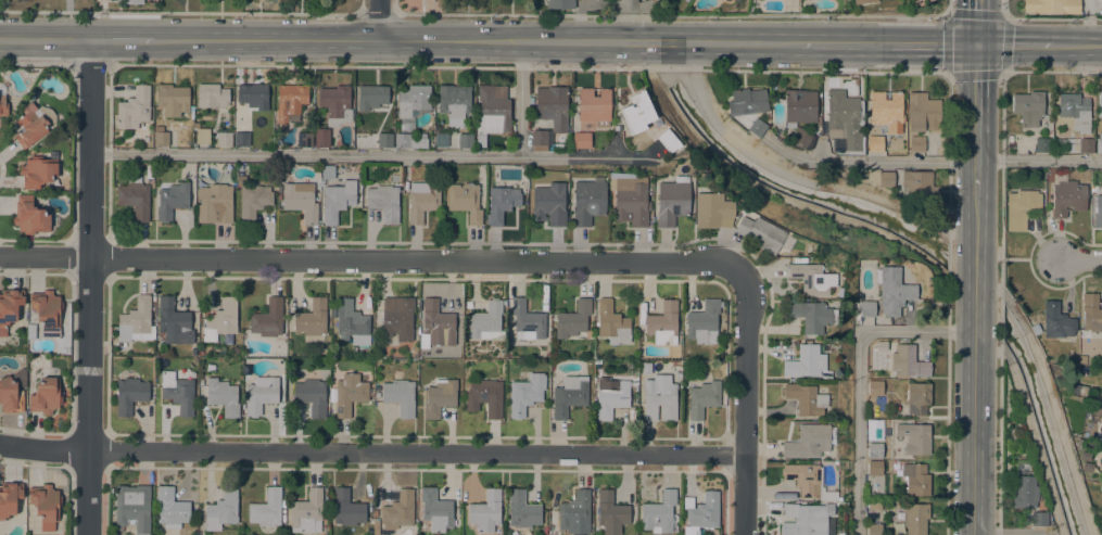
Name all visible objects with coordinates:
building: (735, 0)
building: (863, 1)
building: (134, 2)
building: (560, 4)
road: (622, 4)
building: (1052, 5)
road: (362, 7)
road: (394, 7)
road: (656, 8)
road: (1006, 9)
road: (623, 12)
road: (180, 13)
road: (378, 14)
road: (508, 14)
road: (794, 15)
road: (949, 15)
road: (1054, 18)
road: (378, 20)
road: (977, 23)
road: (625, 28)
road: (400, 39)
road: (887, 44)
road: (1014, 44)
road: (1077, 44)
traffic signals: (977, 46)
road: (688, 56)
road: (35, 64)
road: (529, 66)
building: (212, 95)
building: (253, 95)
building: (371, 97)
road: (520, 98)
building: (173, 99)
building: (454, 100)
building: (290, 101)
building: (335, 103)
building: (1100, 104)
building: (3, 105)
building: (595, 105)
building: (799, 106)
building: (1028, 107)
building: (134, 109)
building: (748, 109)
building: (886, 109)
building: (493, 110)
building: (923, 112)
building: (1072, 112)
building: (637, 113)
building: (549, 114)
building: (411, 115)
road: (976, 116)
building: (845, 119)
building: (29, 125)
road: (1001, 133)
building: (161, 136)
building: (800, 137)
building: (224, 139)
building: (241, 139)
building: (304, 139)
building: (321, 139)
building: (384, 139)
building: (582, 139)
building: (465, 140)
building: (668, 140)
building: (479, 142)
building: (875, 143)
building: (916, 143)
building: (1042, 144)
building: (1075, 144)
building: (1099, 144)
building: (558, 145)
building: (1010, 145)
road: (351, 154)
road: (949, 154)
road: (965, 161)
building: (682, 167)
building: (38, 171)
building: (328, 171)
building: (150, 174)
road: (794, 177)
building: (886, 179)
building: (920, 187)
building: (1094, 188)
road: (780, 195)
building: (135, 198)
building: (1067, 198)
building: (172, 200)
building: (252, 200)
building: (338, 200)
building: (422, 200)
building: (465, 200)
building: (588, 201)
building: (631, 201)
building: (672, 201)
building: (300, 202)
building: (383, 202)
building: (501, 203)
building: (215, 204)
building: (549, 204)
building: (1021, 208)
building: (712, 211)
building: (744, 211)
building: (1098, 212)
building: (29, 216)
road: (975, 225)
building: (760, 233)
road: (958, 238)
building: (810, 249)
road: (950, 254)
road: (45, 256)
road: (1081, 258)
road: (413, 259)
road: (988, 272)
building: (811, 278)
road: (974, 283)
road: (88, 285)
building: (894, 290)
road: (1008, 298)
building: (9, 307)
building: (866, 307)
building: (47, 311)
building: (1091, 313)
building: (812, 316)
building: (268, 318)
building: (312, 318)
building: (528, 319)
building: (573, 319)
road: (999, 319)
building: (398, 320)
building: (136, 321)
building: (221, 321)
building: (486, 321)
building: (1057, 321)
building: (174, 322)
building: (352, 322)
building: (704, 322)
building: (436, 323)
building: (611, 323)
building: (642, 324)
building: (663, 324)
building: (235, 349)
road: (993, 351)
building: (194, 352)
building: (806, 361)
building: (908, 361)
building: (675, 364)
building: (646, 368)
road: (857, 377)
building: (875, 387)
building: (1079, 388)
building: (178, 392)
building: (66, 393)
building: (349, 393)
building: (129, 394)
building: (262, 394)
building: (525, 394)
building: (311, 395)
building: (569, 395)
building: (10, 396)
building: (46, 396)
building: (223, 396)
building: (400, 396)
building: (485, 396)
building: (440, 397)
building: (660, 397)
building: (702, 397)
building: (917, 397)
building: (610, 398)
building: (806, 398)
road: (745, 402)
road: (947, 403)
road: (1057, 417)
road: (973, 419)
building: (874, 429)
road: (999, 436)
building: (914, 437)
building: (809, 441)
road: (1036, 448)
building: (874, 449)
road: (371, 451)
building: (874, 468)
building: (803, 477)
building: (916, 479)
building: (1101, 487)
building: (1025, 492)
building: (827, 496)
building: (9, 498)
building: (46, 505)
building: (132, 507)
building: (170, 508)
building: (346, 508)
building: (266, 509)
building: (221, 510)
building: (398, 510)
building: (435, 510)
building: (522, 510)
building: (485, 511)
building: (307, 512)
building: (574, 512)
building: (610, 512)
building: (659, 512)
building: (701, 512)
building: (375, 513)
building: (283, 518)
building: (915, 518)
building: (806, 519)
building: (1039, 519)
building: (376, 526)
building: (874, 528)
road: (1012, 533)

